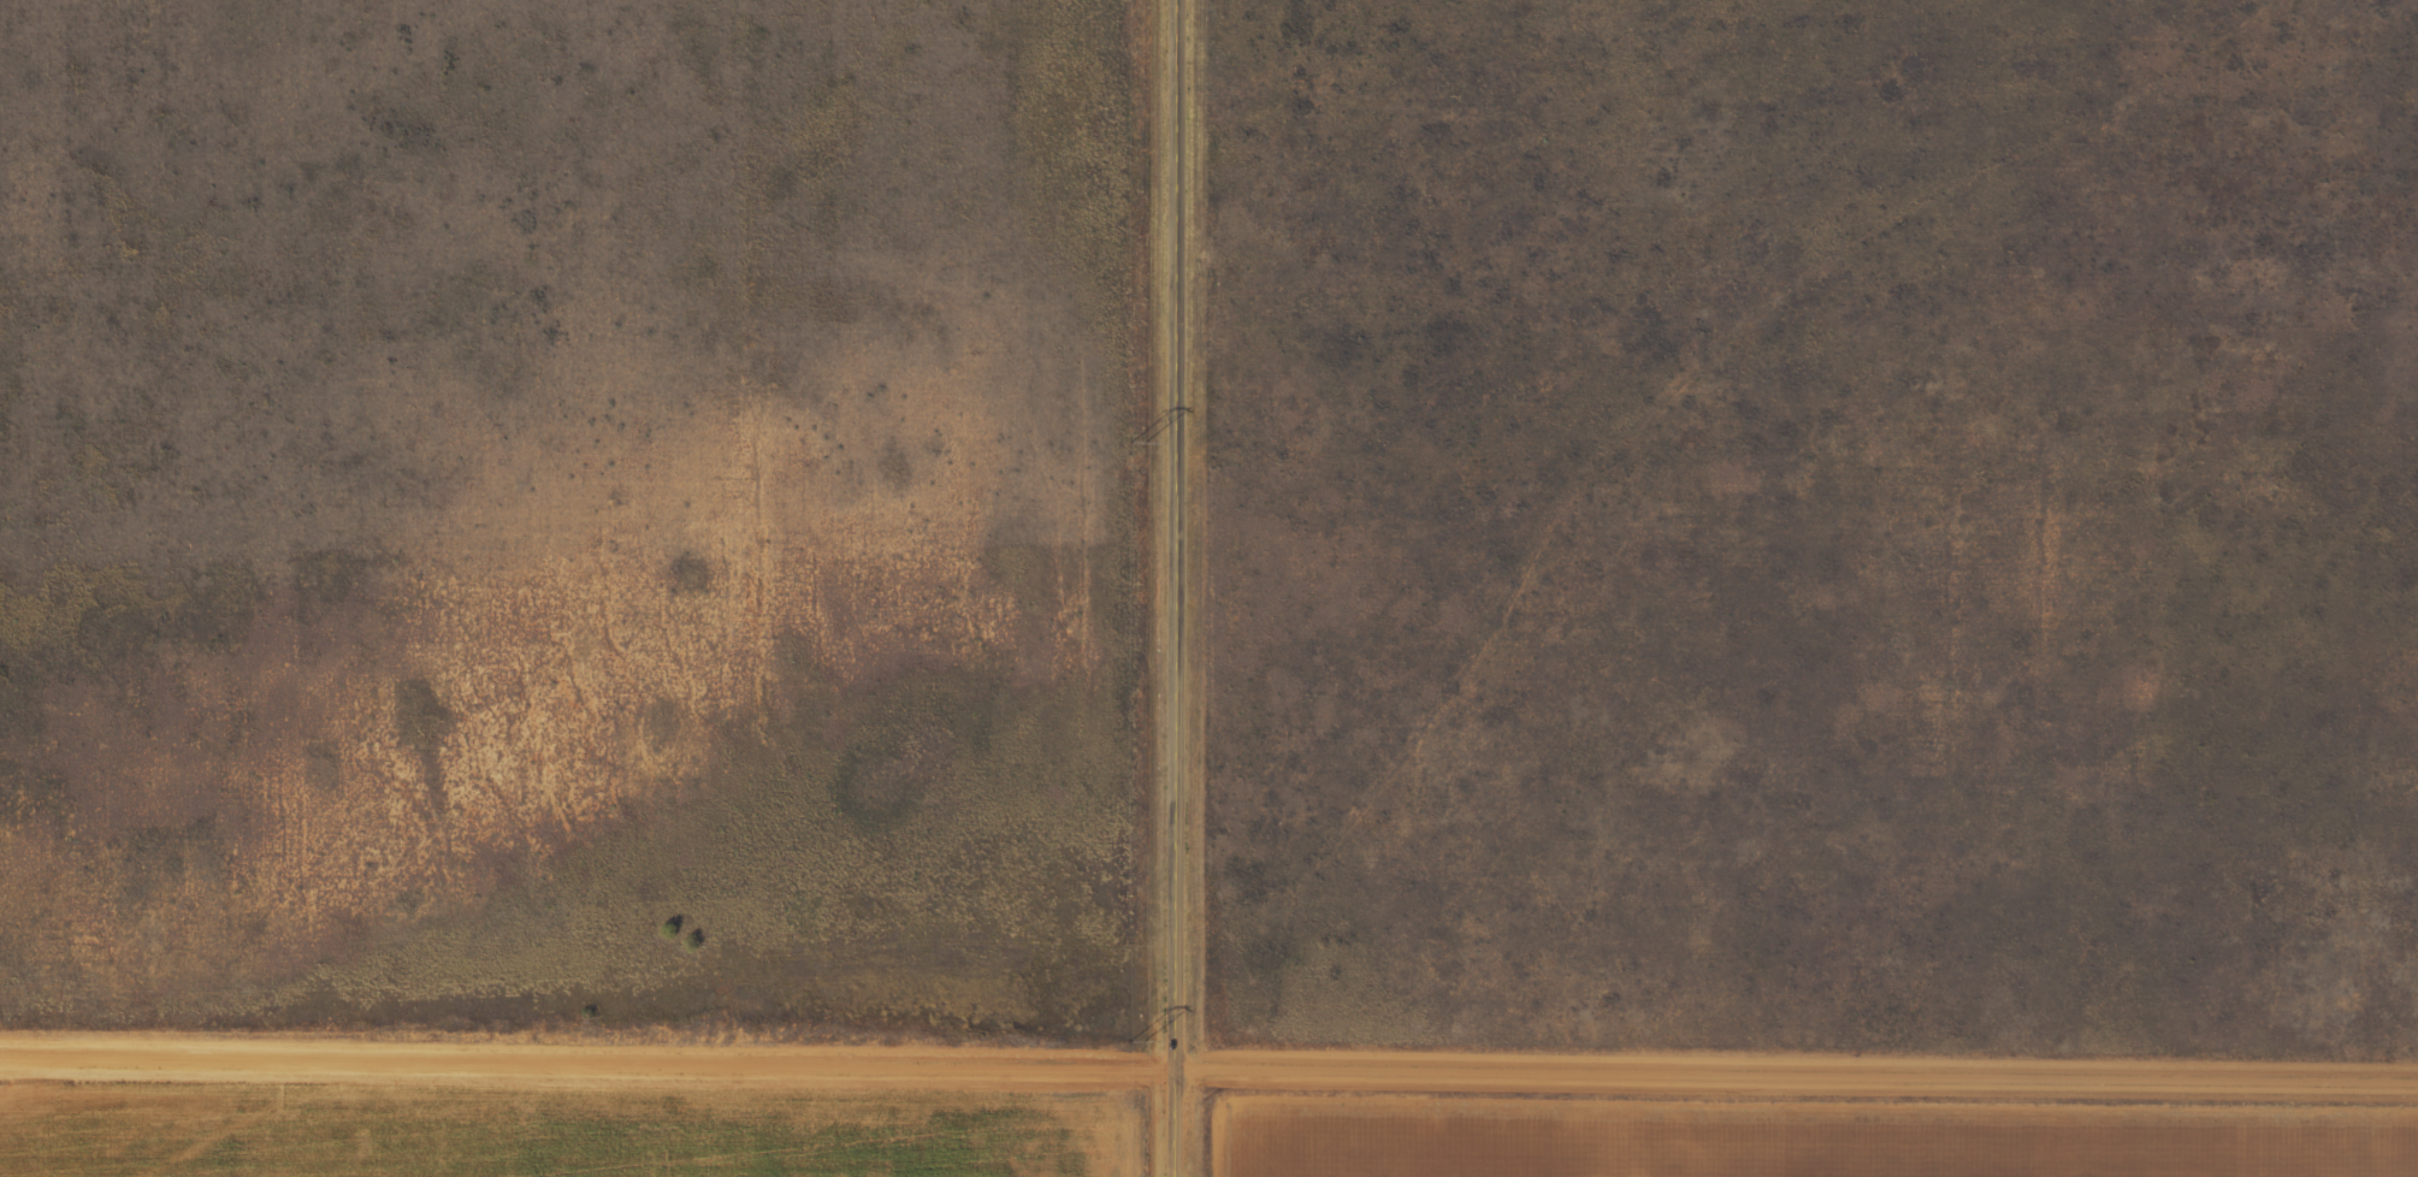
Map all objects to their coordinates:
power tower: (1130, 442)
road: (1170, 587)
power tower: (1131, 1042)
road: (1208, 1061)

